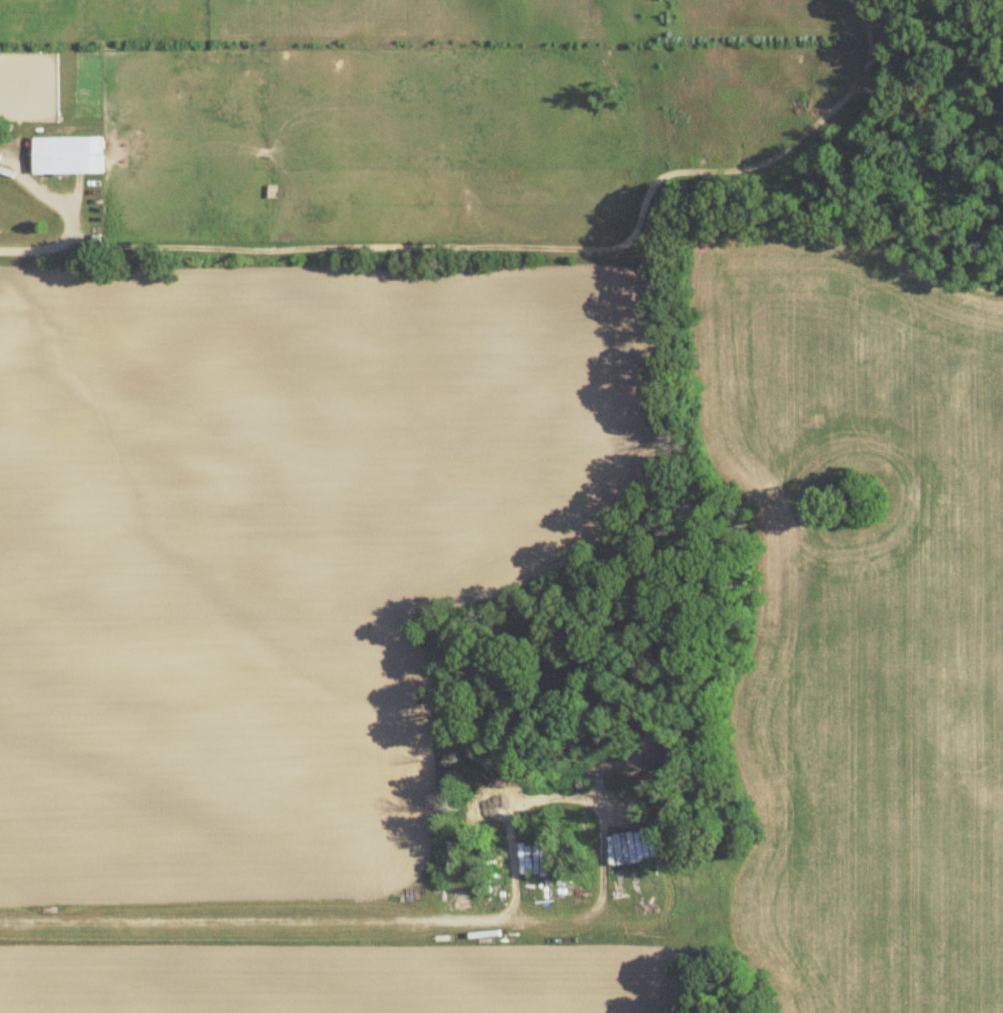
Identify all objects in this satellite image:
building: (0, 154)
building: (71, 156)
building: (822, 156)
road: (73, 222)
road: (591, 804)
building: (627, 848)
building: (455, 853)
road: (252, 922)

